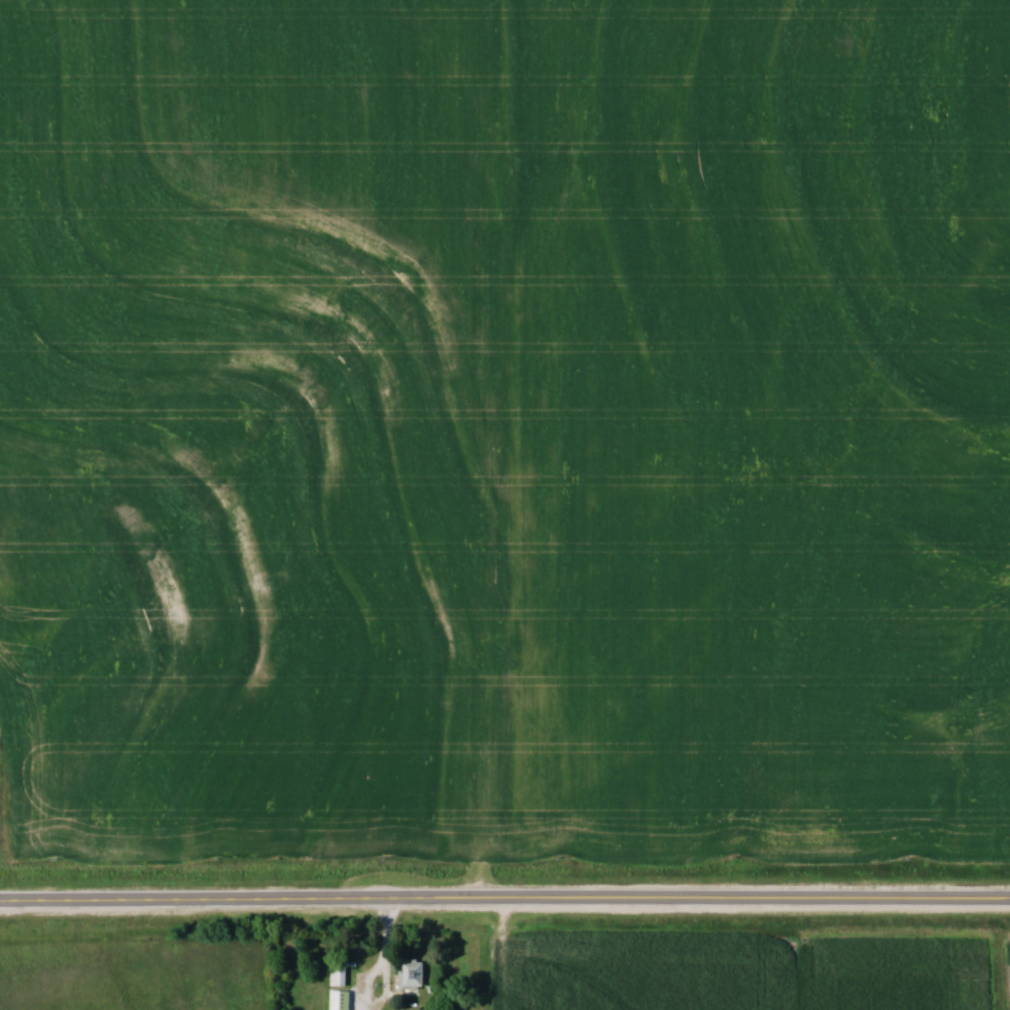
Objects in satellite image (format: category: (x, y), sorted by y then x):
road: (505, 896)
building: (339, 972)
building: (414, 973)

